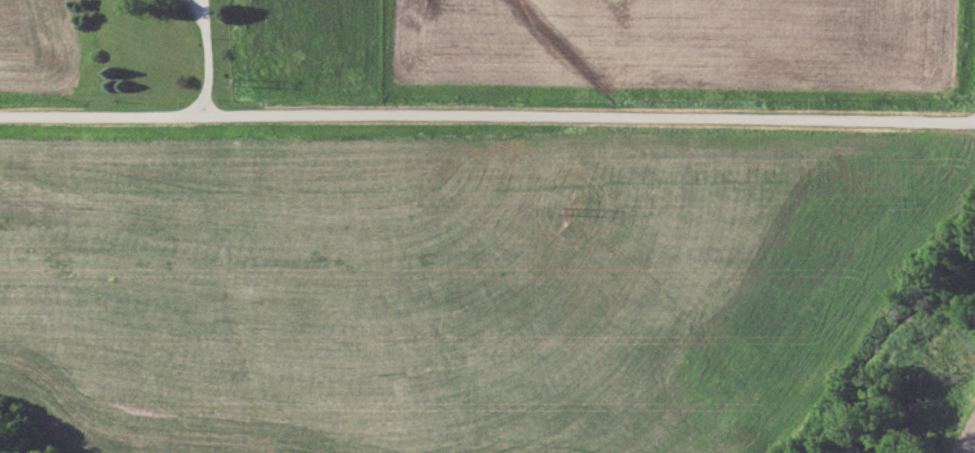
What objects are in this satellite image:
road: (209, 55)
road: (487, 115)

